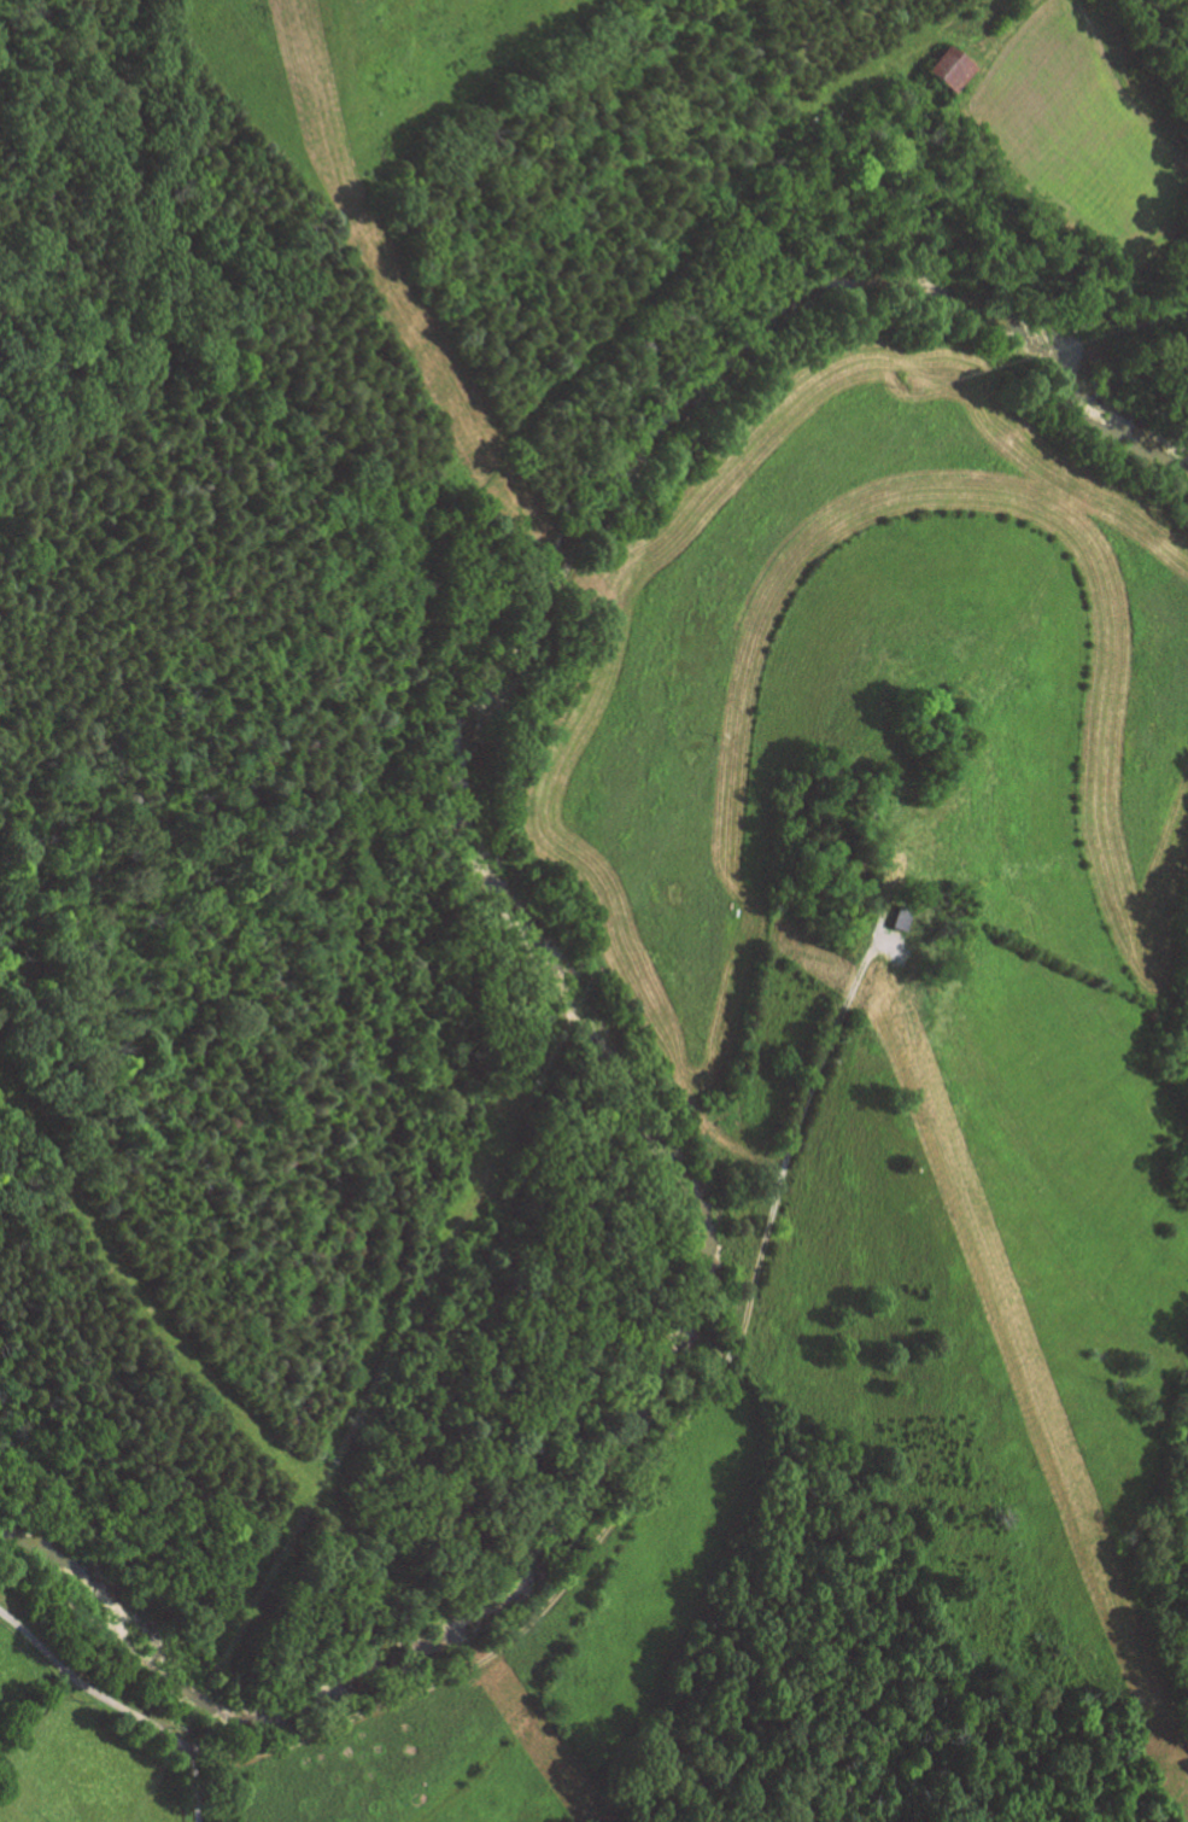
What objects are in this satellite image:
road: (959, 14)
building: (947, 70)
crop: (1082, 128)
building: (867, 862)
building: (902, 921)
road: (645, 1468)
road: (84, 1686)
road: (193, 1782)

